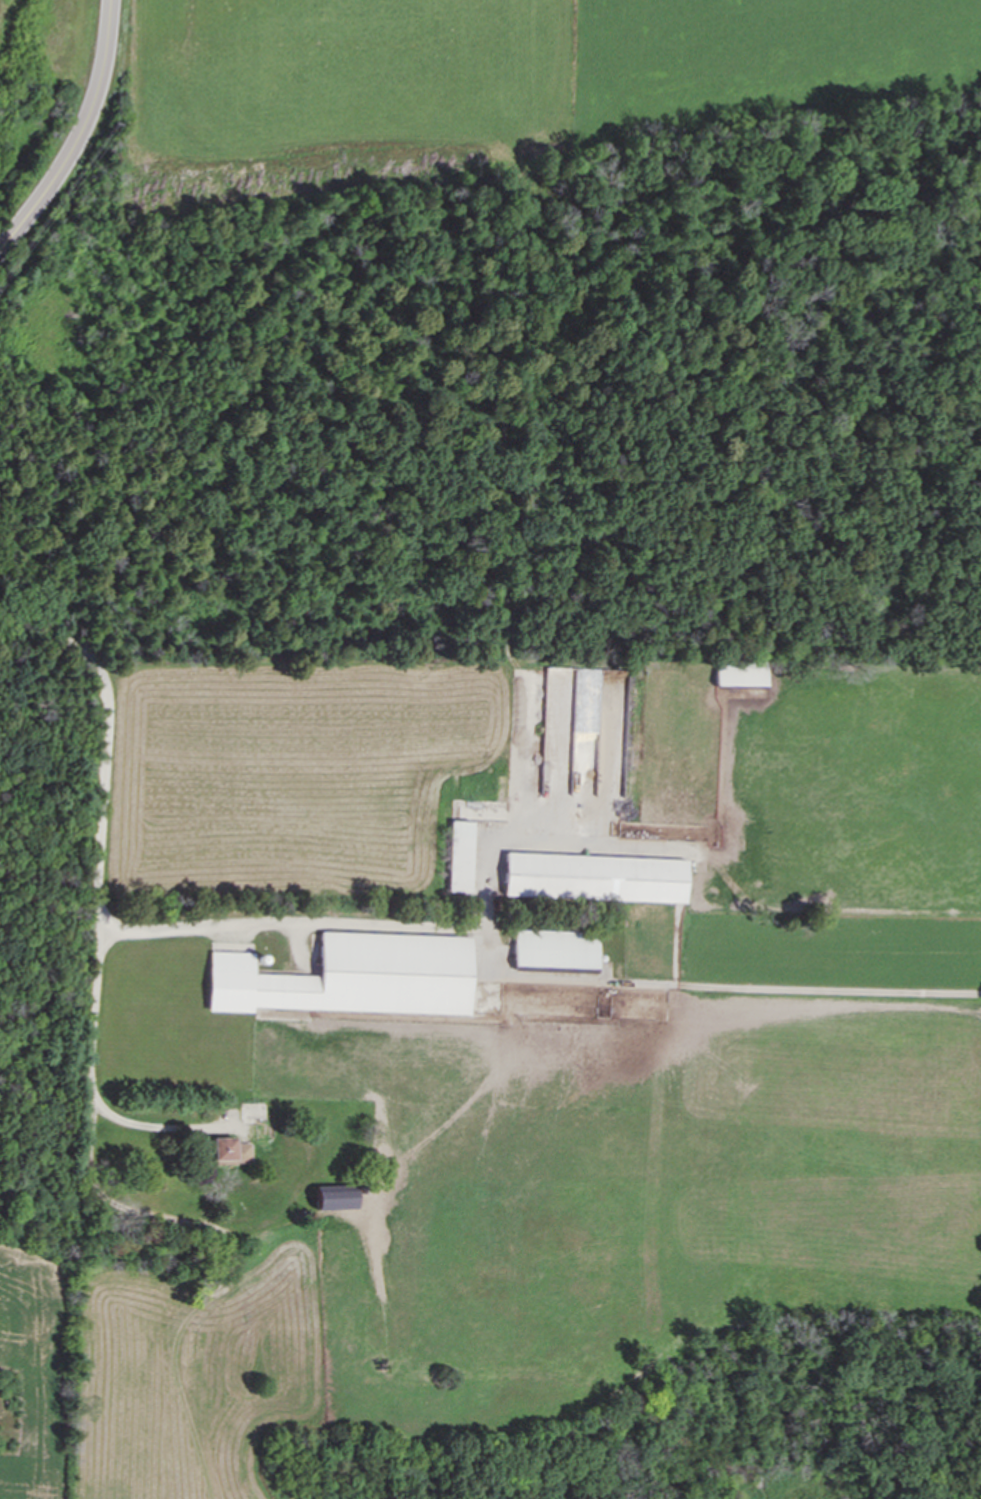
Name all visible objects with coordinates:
crop: (491, 83)
road: (80, 137)
building: (740, 673)
road: (97, 830)
building: (459, 856)
building: (595, 878)
road: (370, 925)
building: (555, 950)
building: (353, 977)
building: (228, 1152)
building: (334, 1197)
road: (264, 1212)
crop: (174, 1373)

